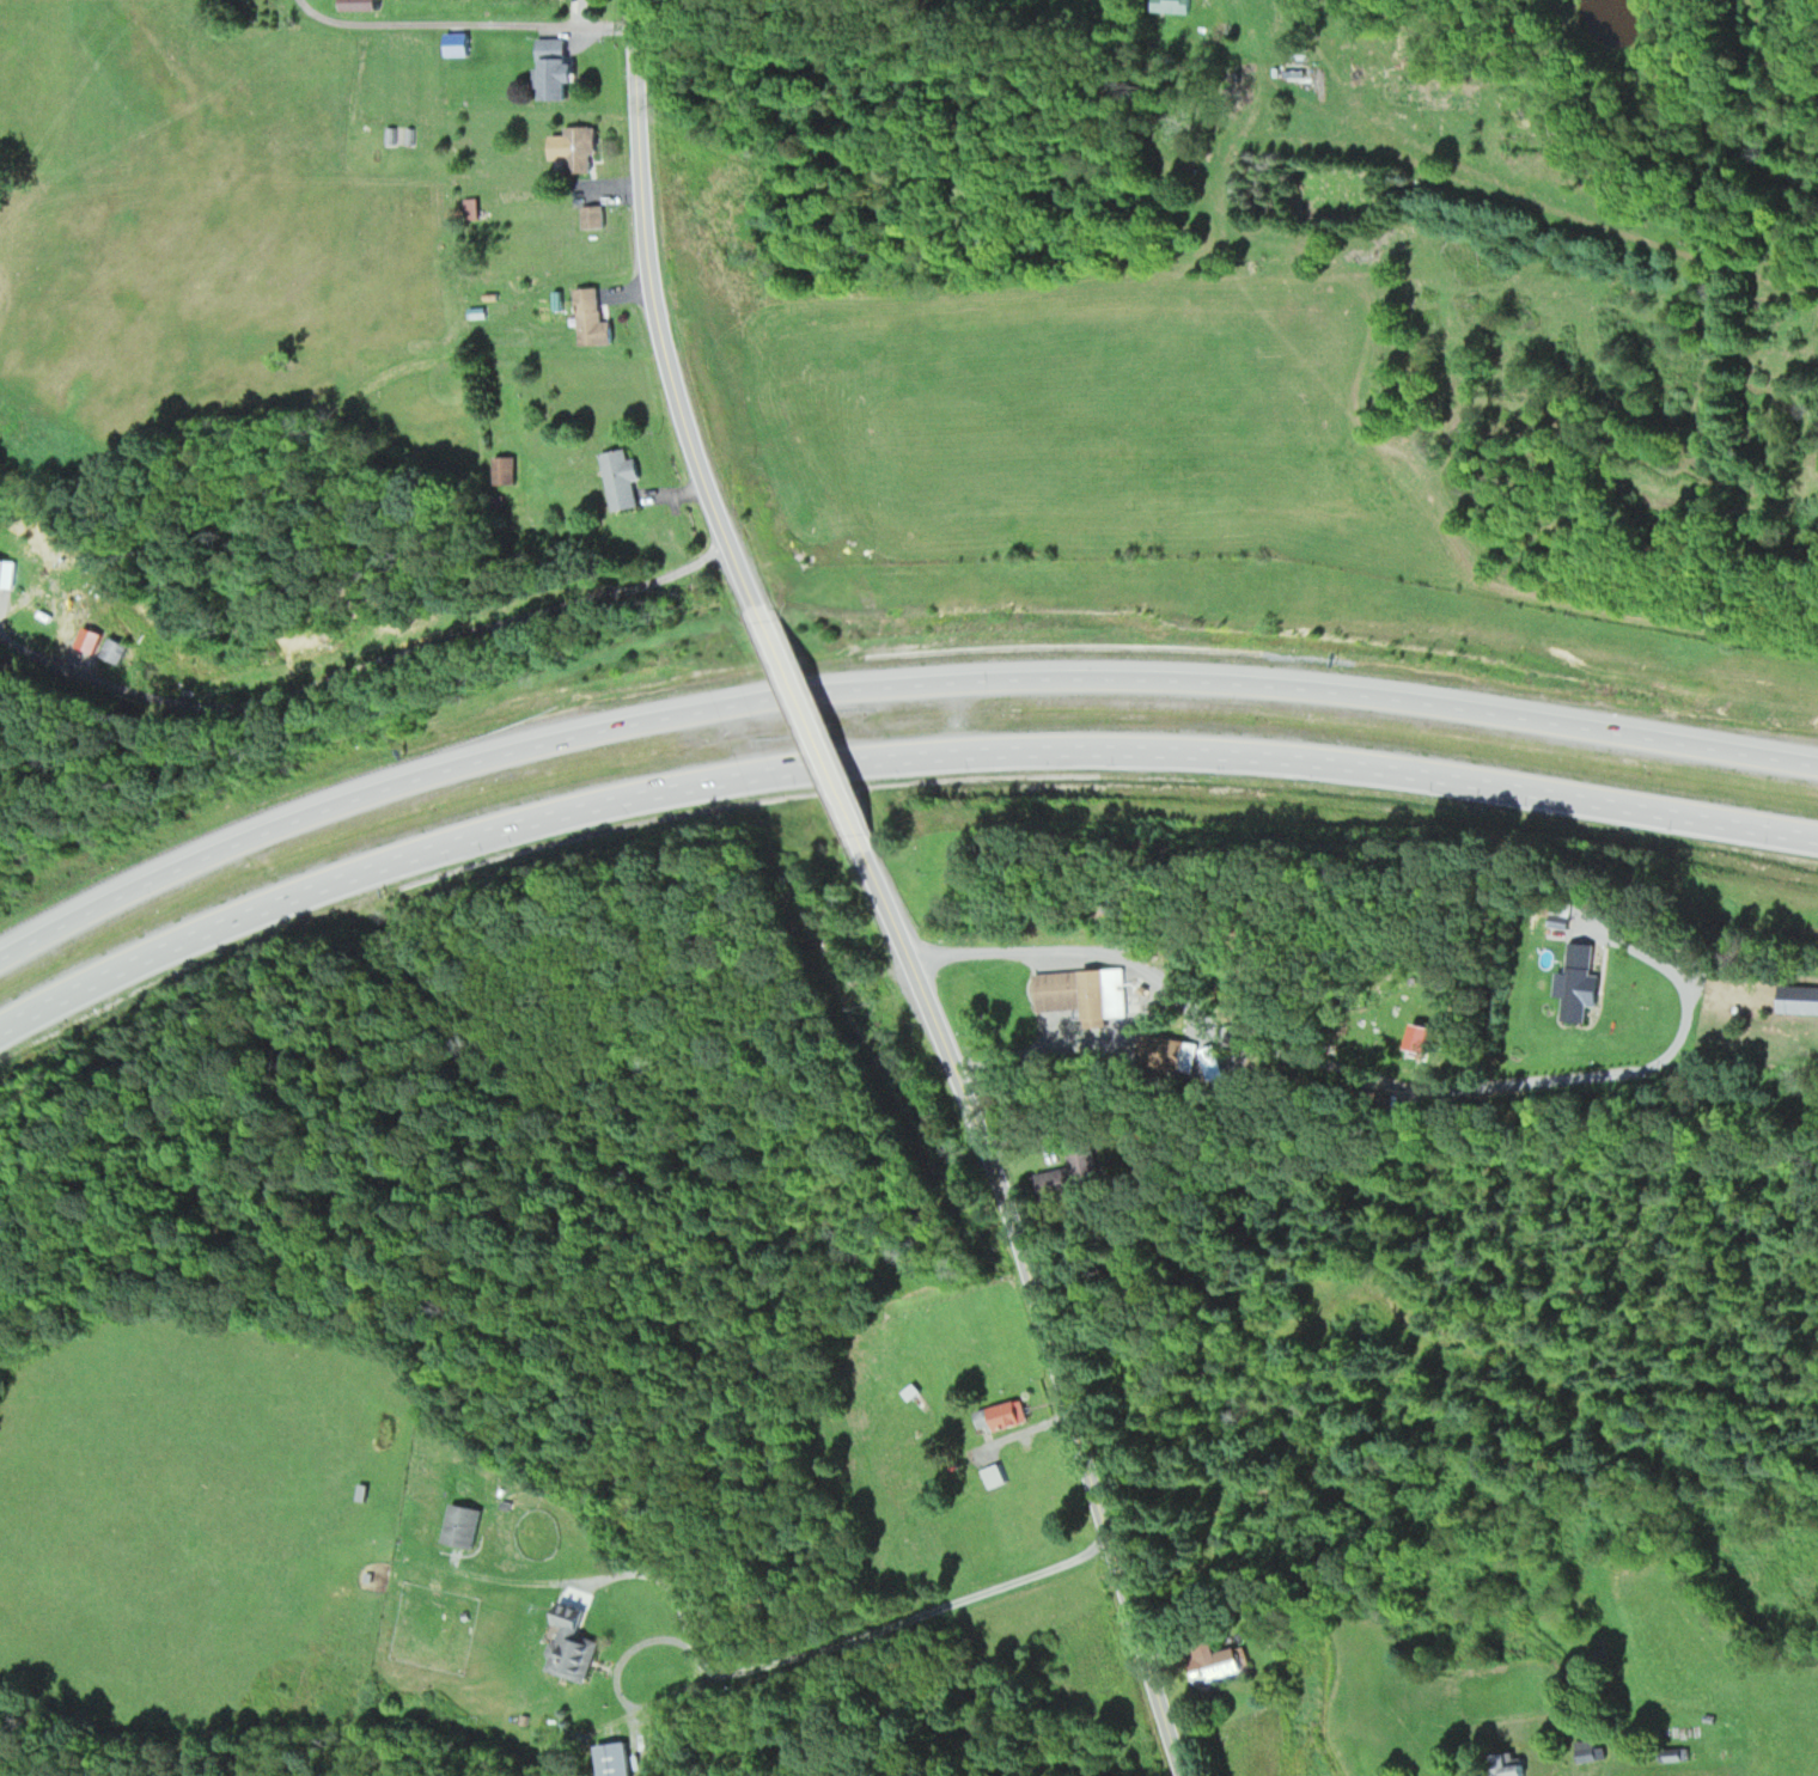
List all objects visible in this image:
building: (361, 4)
building: (1170, 5)
road: (633, 11)
road: (464, 22)
building: (556, 68)
building: (580, 148)
building: (470, 208)
building: (592, 216)
building: (592, 319)
road: (660, 326)
building: (505, 470)
building: (621, 478)
building: (5, 574)
road: (440, 646)
building: (114, 651)
road: (887, 692)
road: (812, 732)
road: (889, 764)
building: (1580, 983)
building: (1082, 993)
building: (1167, 1056)
road: (800, 1139)
building: (1059, 1180)
road: (1050, 1305)
building: (1001, 1417)
building: (993, 1476)
building: (460, 1525)
road: (1247, 1531)
building: (571, 1649)
building: (1216, 1665)
road: (1005, 1738)
building: (1586, 1750)
road: (568, 1754)
building: (1508, 1765)

